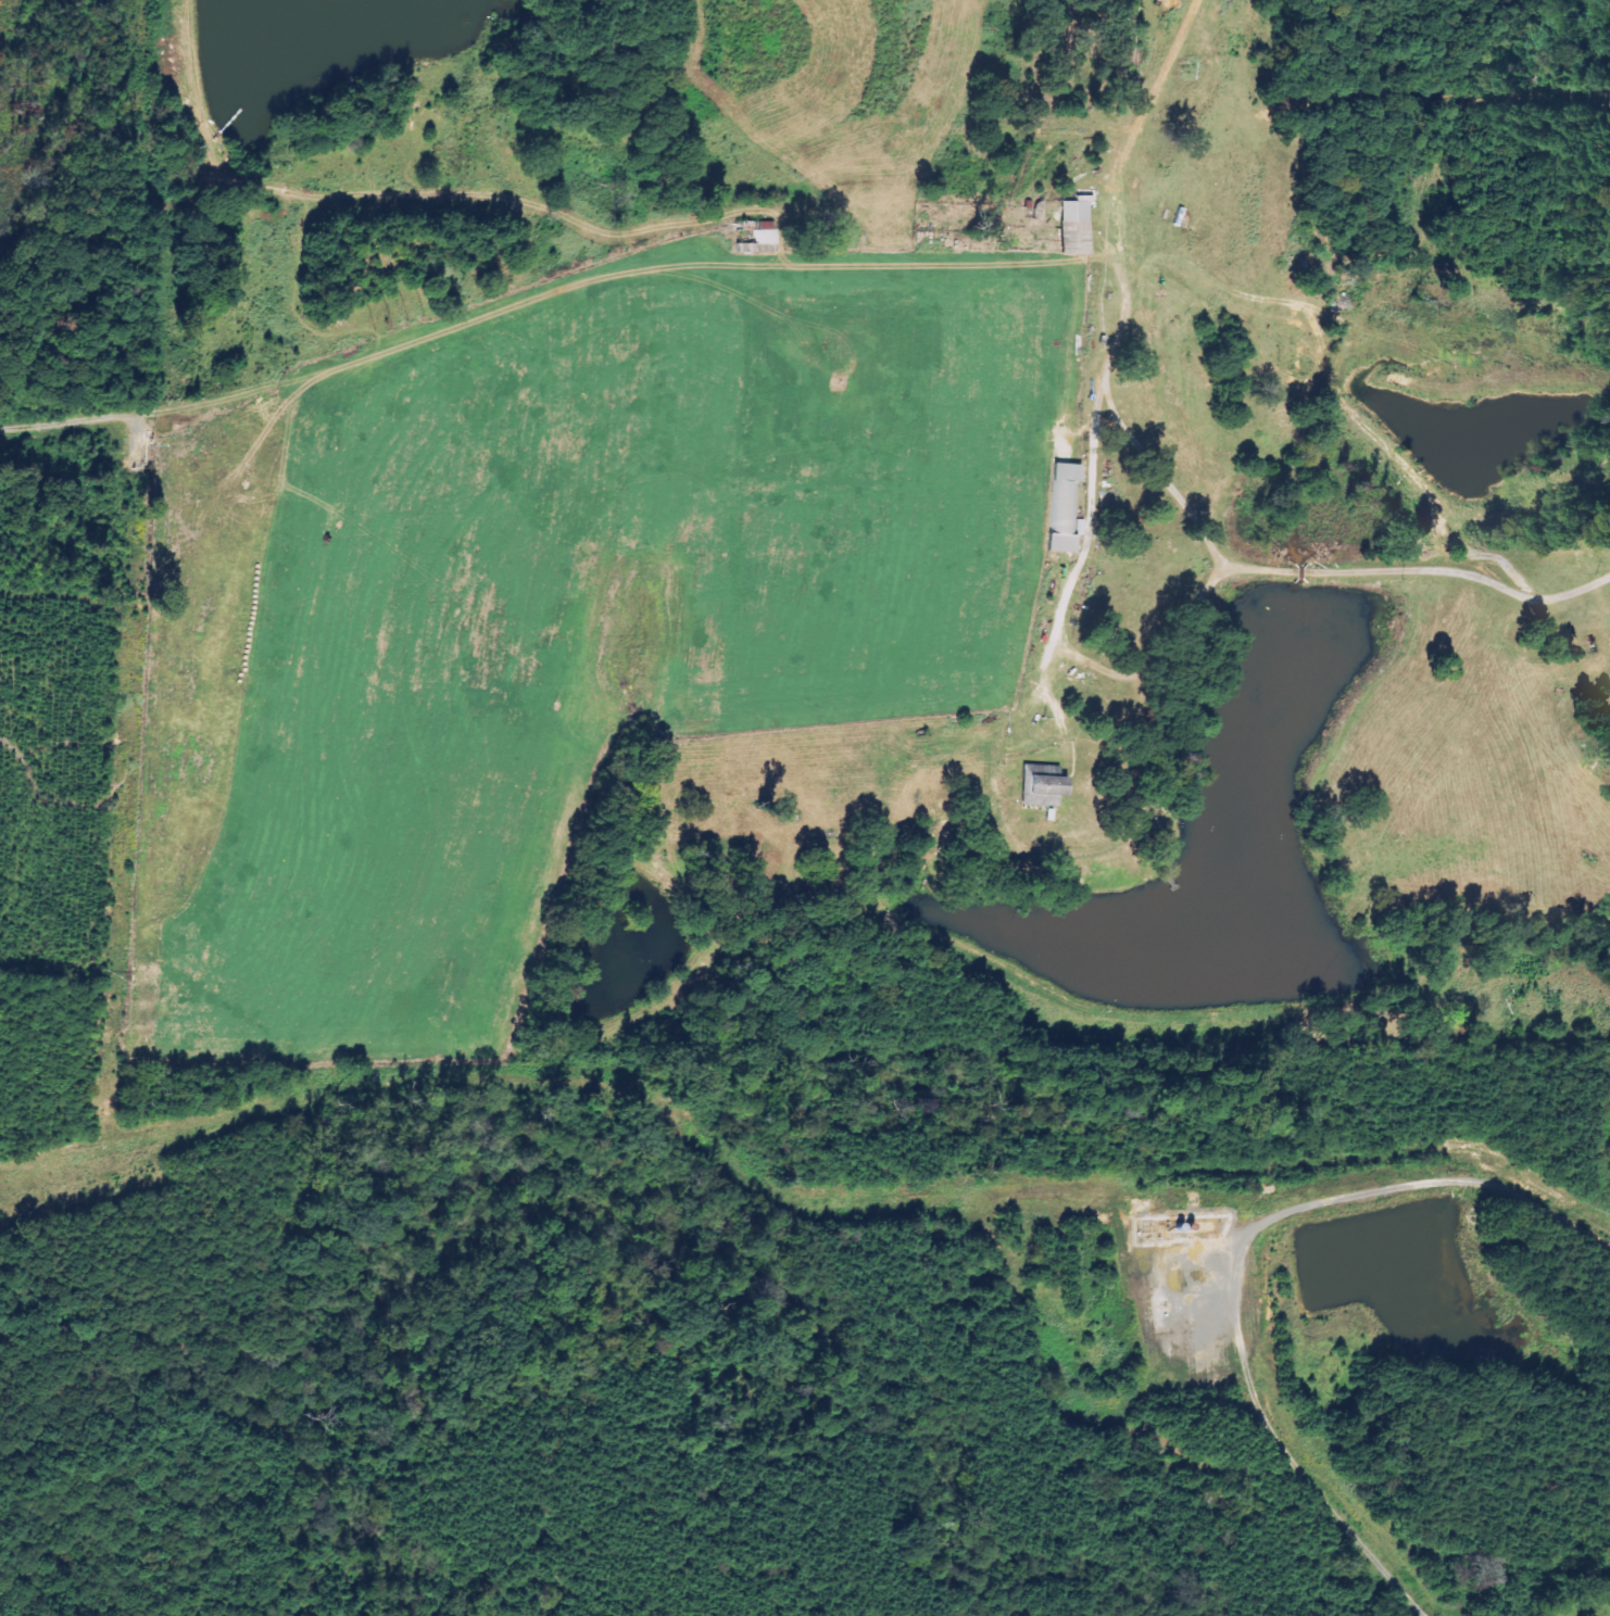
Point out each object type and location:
building: (1073, 226)
building: (758, 239)
road: (1094, 440)
building: (1065, 509)
road: (1308, 570)
building: (1042, 790)

